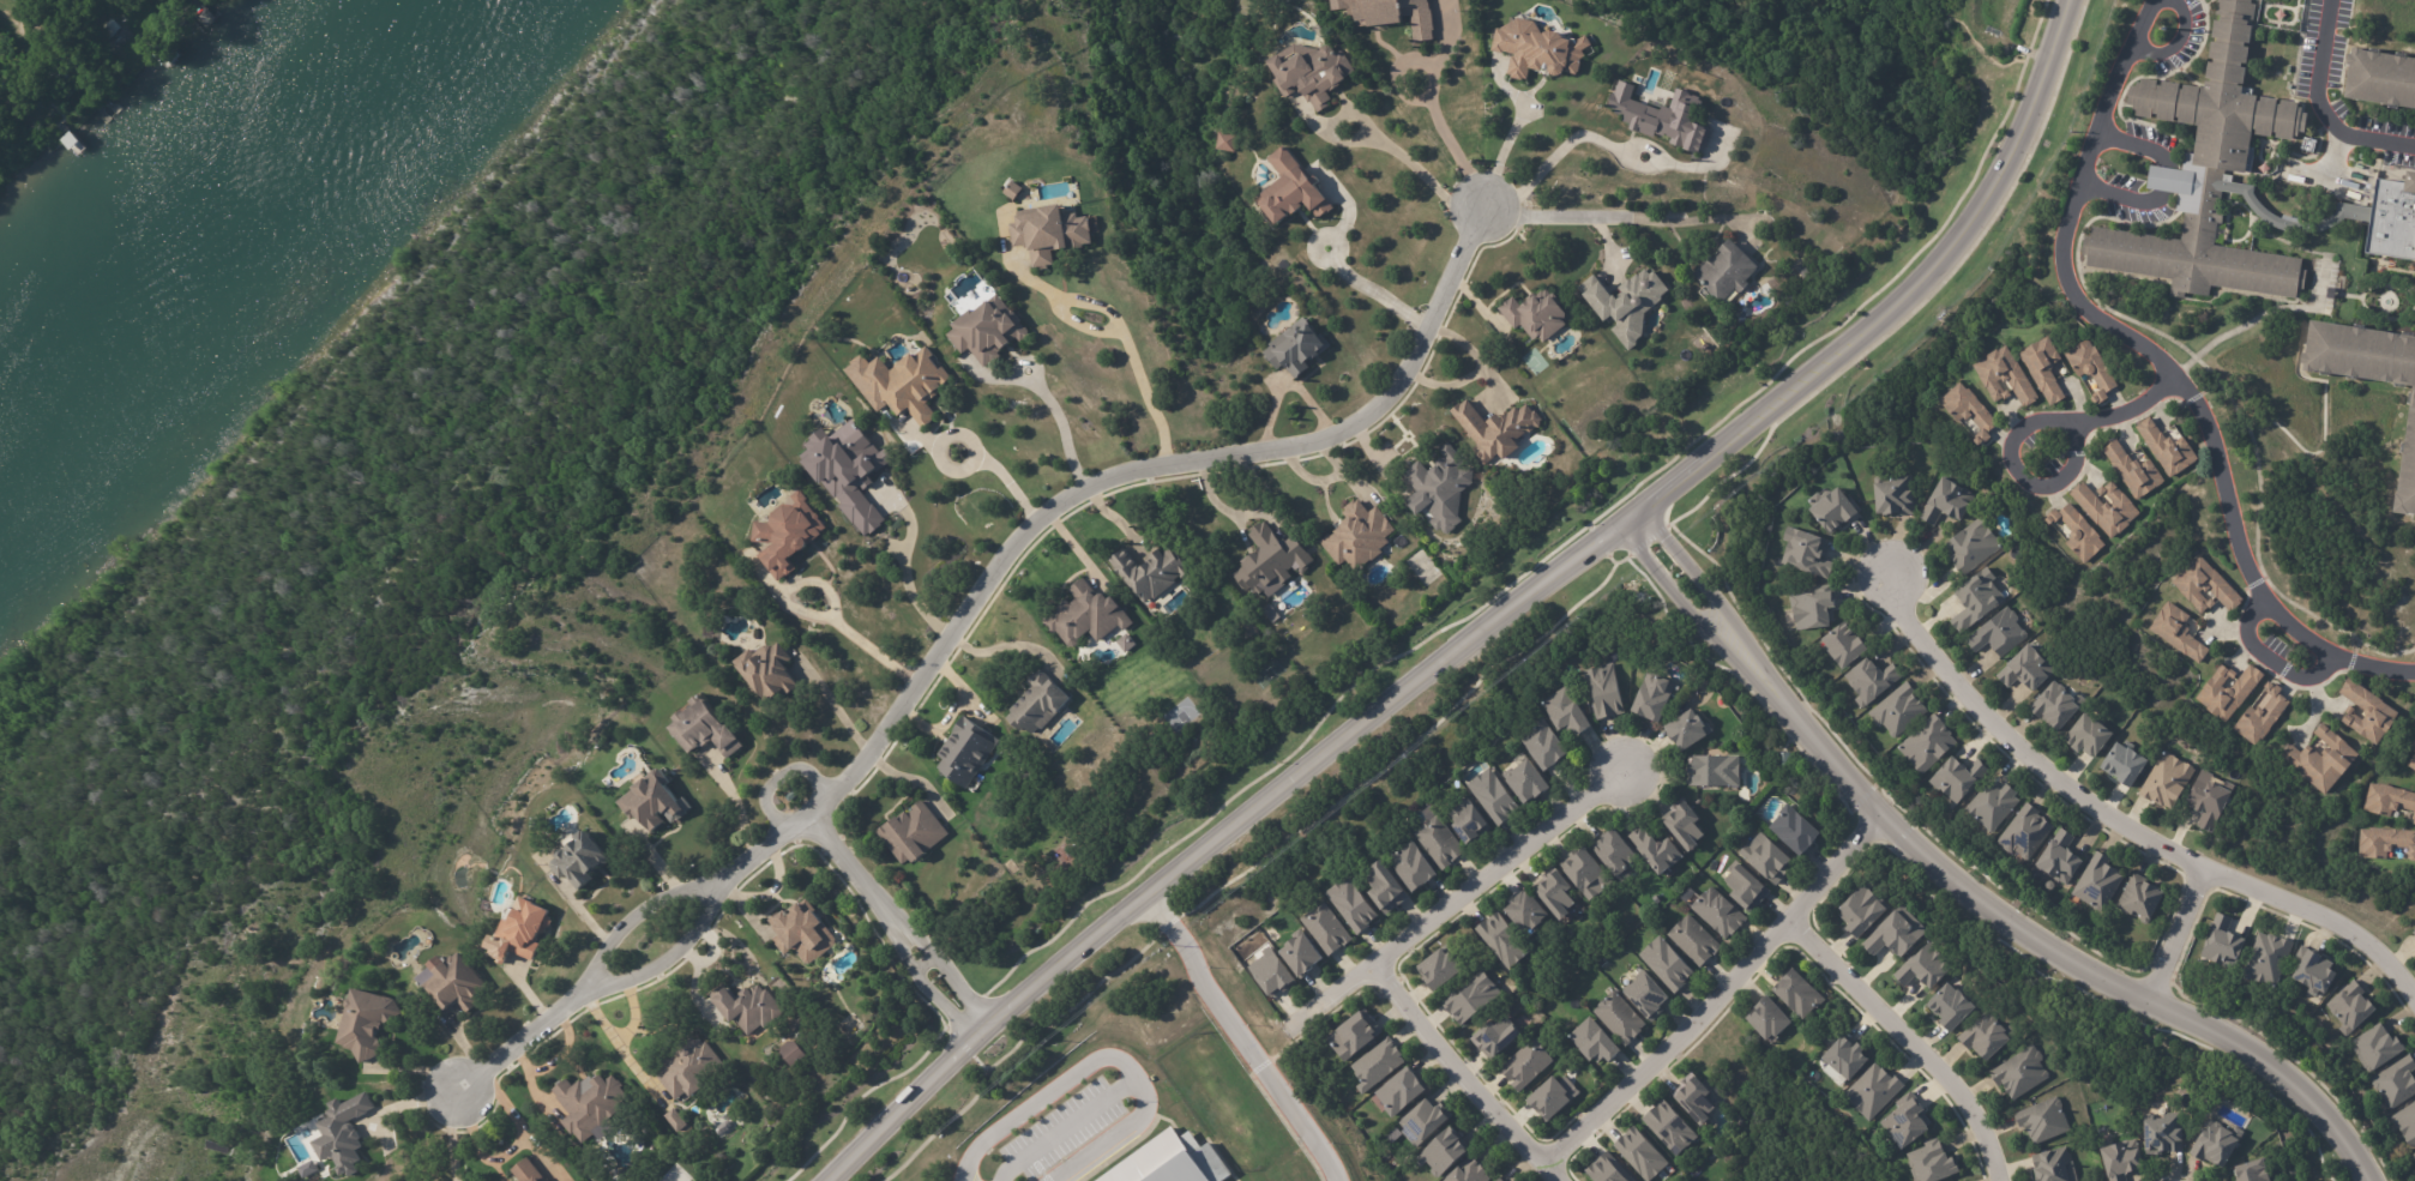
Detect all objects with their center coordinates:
building: (1396, 14)
road: (18, 24)
building: (1320, 26)
building: (110, 31)
road: (2174, 41)
building: (1541, 48)
building: (1312, 71)
building: (70, 72)
building: (2378, 73)
building: (17, 103)
road: (2321, 103)
building: (1661, 114)
building: (29, 129)
road: (1446, 134)
building: (1229, 140)
road: (2131, 140)
road: (1505, 143)
road: (1604, 144)
road: (2163, 168)
building: (2211, 168)
road: (1422, 171)
building: (1291, 187)
building: (1014, 189)
road: (2124, 197)
road: (1620, 215)
building: (2395, 219)
river: (219, 227)
building: (1052, 230)
road: (1608, 241)
building: (1729, 270)
road: (1380, 294)
building: (2335, 295)
building: (1627, 305)
building: (1540, 315)
building: (989, 329)
road: (1124, 343)
building: (1295, 344)
road: (2164, 366)
building: (2092, 369)
building: (2044, 370)
building: (2007, 378)
building: (915, 385)
building: (1973, 411)
road: (2023, 426)
road: (1064, 429)
building: (1498, 430)
building: (2398, 440)
building: (2168, 450)
building: (850, 470)
building: (2136, 471)
road: (1005, 477)
road: (1664, 483)
building: (1441, 486)
road: (1084, 490)
building: (1898, 495)
building: (1951, 500)
building: (2108, 507)
building: (1833, 510)
building: (2078, 532)
building: (789, 534)
building: (1360, 535)
building: (1976, 546)
building: (1807, 552)
building: (1273, 561)
building: (1154, 572)
road: (1692, 572)
road: (905, 580)
building: (2208, 586)
road: (1669, 591)
building: (1980, 599)
building: (1815, 607)
building: (1088, 614)
building: (709, 631)
building: (2179, 631)
building: (2000, 633)
building: (1847, 645)
road: (875, 650)
building: (2293, 657)
road: (2268, 659)
building: (766, 667)
building: (2030, 669)
building: (1874, 681)
building: (1607, 691)
building: (2230, 691)
building: (1656, 697)
building: (1036, 701)
building: (2059, 706)
building: (1902, 711)
building: (1568, 712)
building: (2371, 713)
road: (835, 716)
building: (2263, 716)
building: (703, 724)
building: (1692, 729)
building: (2088, 737)
building: (1548, 743)
building: (1929, 745)
building: (963, 748)
building: (1787, 758)
building: (2325, 760)
building: (2411, 763)
building: (2125, 764)
building: (1717, 770)
building: (1962, 778)
building: (2169, 779)
building: (1529, 782)
building: (793, 795)
building: (1496, 796)
building: (2214, 799)
building: (2387, 800)
building: (656, 802)
building: (1994, 803)
road: (740, 811)
building: (2414, 818)
building: (1470, 823)
building: (1687, 824)
road: (2115, 824)
building: (1797, 831)
building: (2026, 832)
building: (915, 833)
building: (1443, 842)
building: (2385, 842)
building: (1655, 849)
building: (1619, 855)
building: (1769, 857)
building: (2060, 858)
building: (582, 860)
road: (844, 861)
building: (1416, 866)
building: (1590, 873)
building: (2101, 881)
building: (1748, 887)
building: (1389, 888)
building: (1558, 893)
building: (2144, 898)
road: (1457, 902)
building: (487, 905)
building: (1355, 905)
building: (1865, 910)
building: (1530, 911)
building: (1721, 914)
road: (639, 915)
building: (524, 928)
building: (1329, 929)
building: (1897, 933)
building: (2414, 933)
building: (803, 934)
road: (2175, 935)
building: (1507, 940)
road: (2032, 940)
building: (1696, 941)
building: (2226, 942)
road: (671, 956)
building: (1305, 956)
road: (939, 959)
building: (2268, 960)
building: (1669, 965)
building: (1928, 968)
building: (1444, 969)
building: (2314, 970)
building: (1273, 974)
road: (919, 977)
building: (456, 986)
road: (1712, 994)
building: (1801, 994)
building: (1474, 999)
building: (1650, 999)
building: (1953, 1006)
building: (751, 1007)
building: (2354, 1007)
road: (632, 1014)
building: (1621, 1019)
building: (1771, 1020)
building: (368, 1023)
road: (990, 1028)
building: (1357, 1036)
road: (525, 1037)
building: (1500, 1037)
building: (1988, 1037)
road: (613, 1038)
road: (1908, 1040)
road: (1240, 1041)
building: (1596, 1042)
building: (2379, 1048)
building: (791, 1052)
road: (1100, 1058)
building: (1847, 1061)
building: (1379, 1065)
building: (1529, 1065)
building: (691, 1068)
building: (2023, 1073)
road: (1459, 1077)
building: (2398, 1083)
building: (1875, 1091)
building: (1404, 1092)
building: (1554, 1099)
building: (1698, 1101)
building: (591, 1104)
building: (1904, 1120)
building: (2046, 1120)
building: (677, 1121)
building: (1427, 1122)
building: (2408, 1122)
road: (520, 1126)
road: (1065, 1129)
building: (1672, 1129)
building: (2163, 1133)
building: (343, 1134)
road: (450, 1134)
building: (2215, 1140)
road: (477, 1149)
building: (1445, 1153)
building: (1644, 1155)
building: (2414, 1156)
building: (2116, 1157)
building: (1172, 1161)
building: (1935, 1162)
building: (2055, 1167)
building: (2252, 1169)
building: (1609, 1170)
building: (529, 1171)
building: (1470, 1171)
building: (1500, 1179)
building: (548, 1180)

